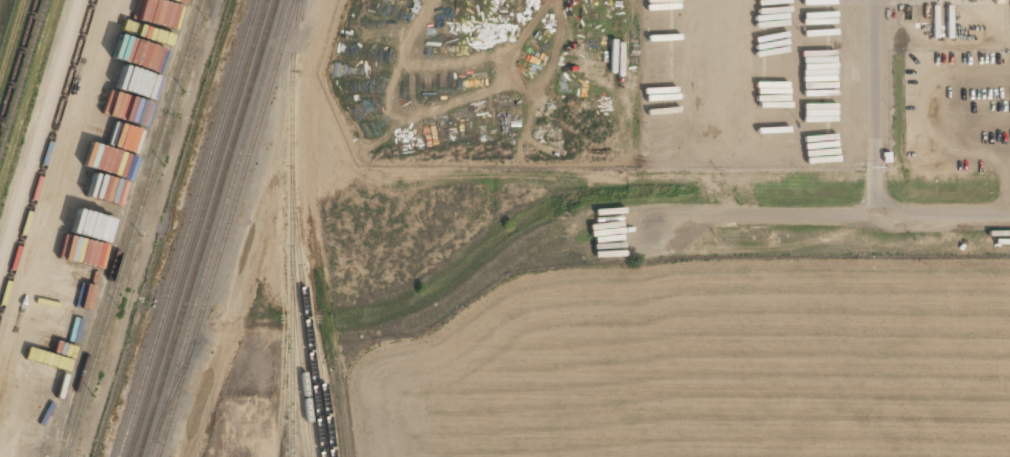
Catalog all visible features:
railway: (18, 61)
railway: (23, 76)
road: (873, 106)
railway: (46, 155)
road: (817, 211)
railway: (125, 227)
railway: (135, 228)
railway: (187, 228)
railway: (197, 228)
railway: (205, 228)
railway: (216, 228)
railway: (226, 228)
railway: (292, 228)
railway: (305, 316)
railway: (300, 358)
railway: (319, 368)
railway: (173, 390)

